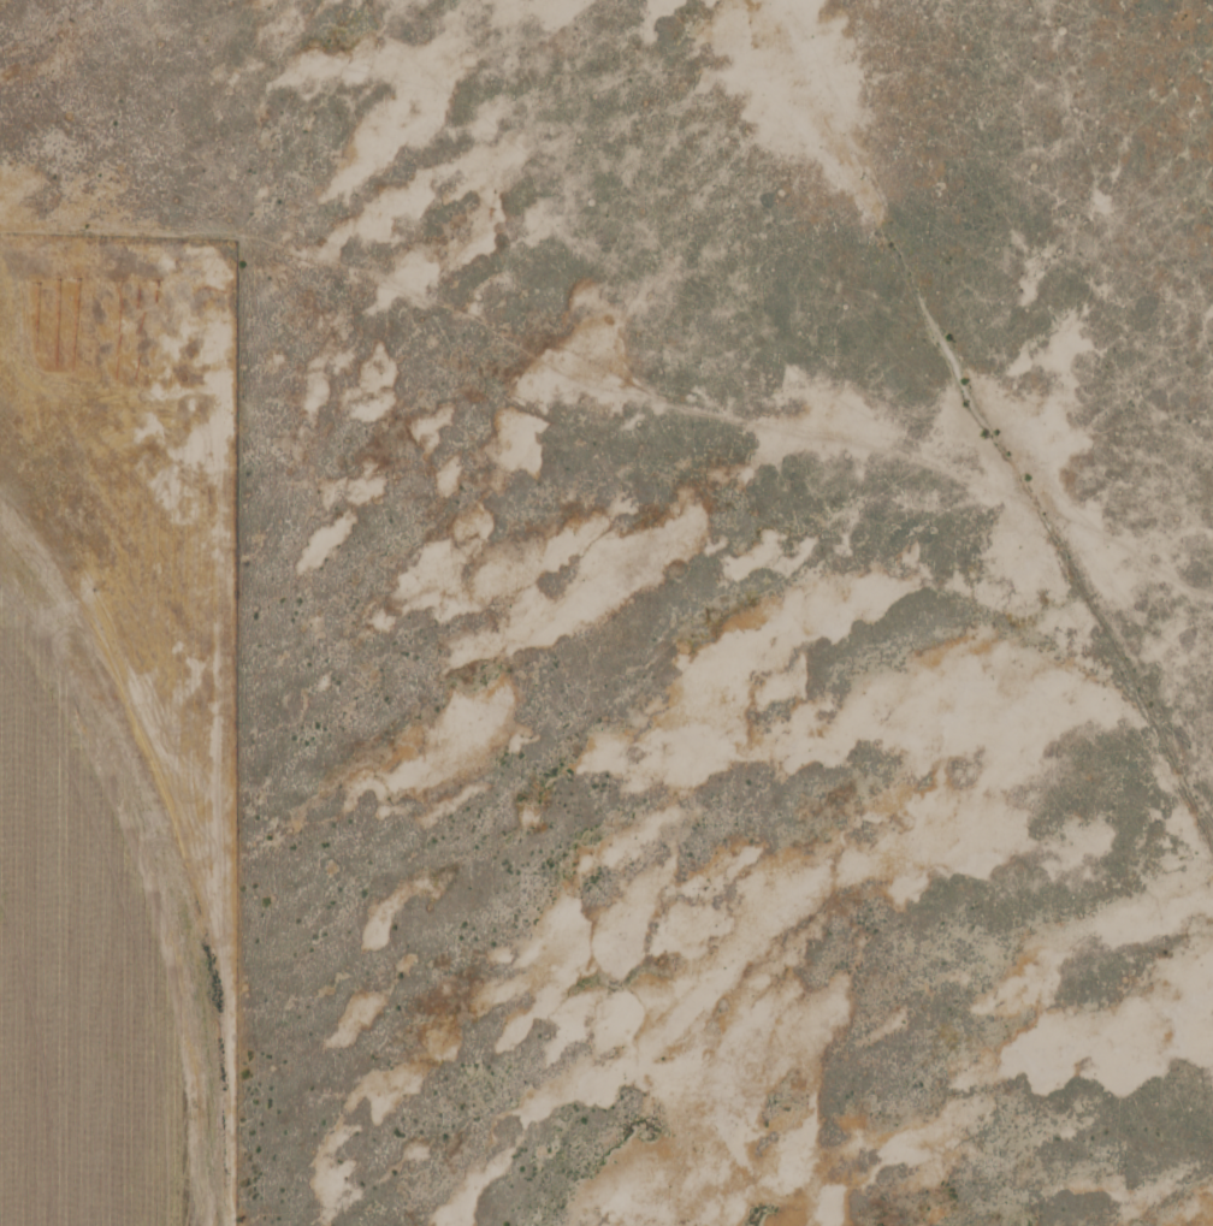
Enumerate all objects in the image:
crop: (78, 982)

